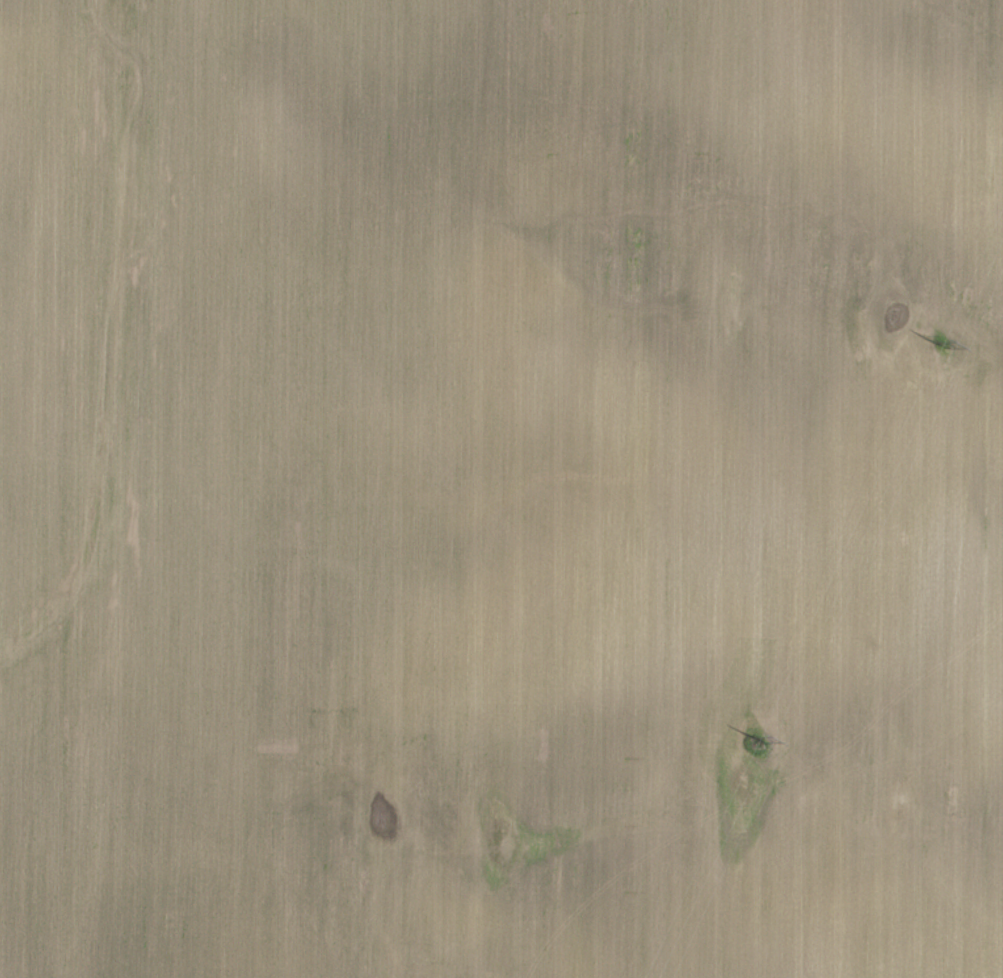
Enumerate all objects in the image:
power tower: (942, 346)
power tower: (757, 742)

